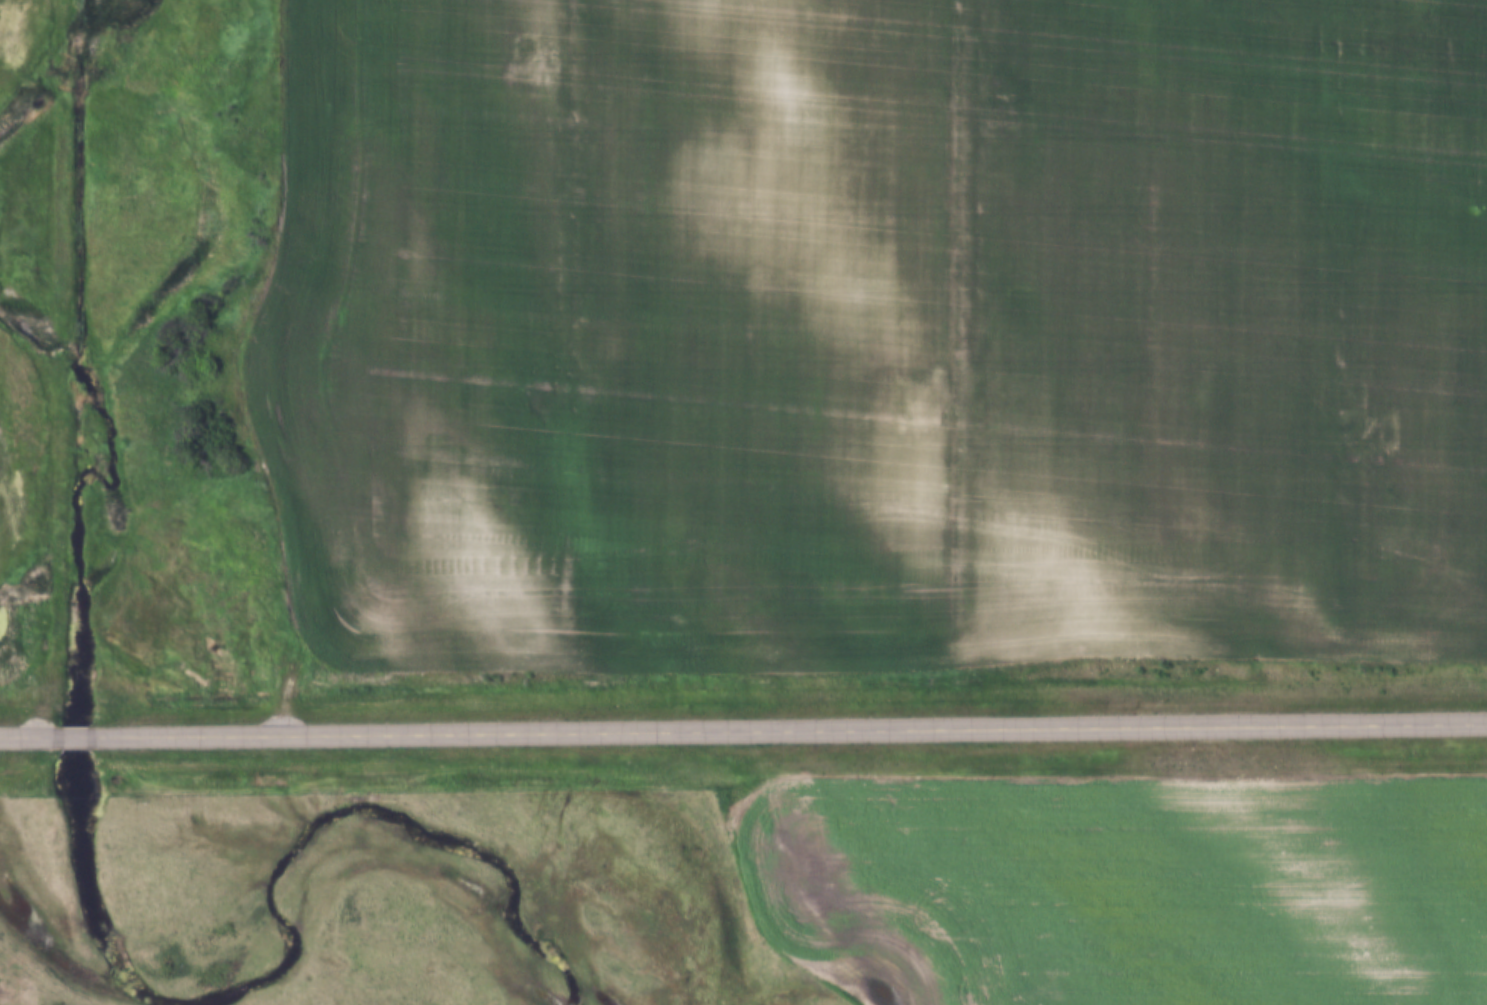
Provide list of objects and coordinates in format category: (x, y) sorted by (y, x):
road: (281, 366)
road: (743, 727)

